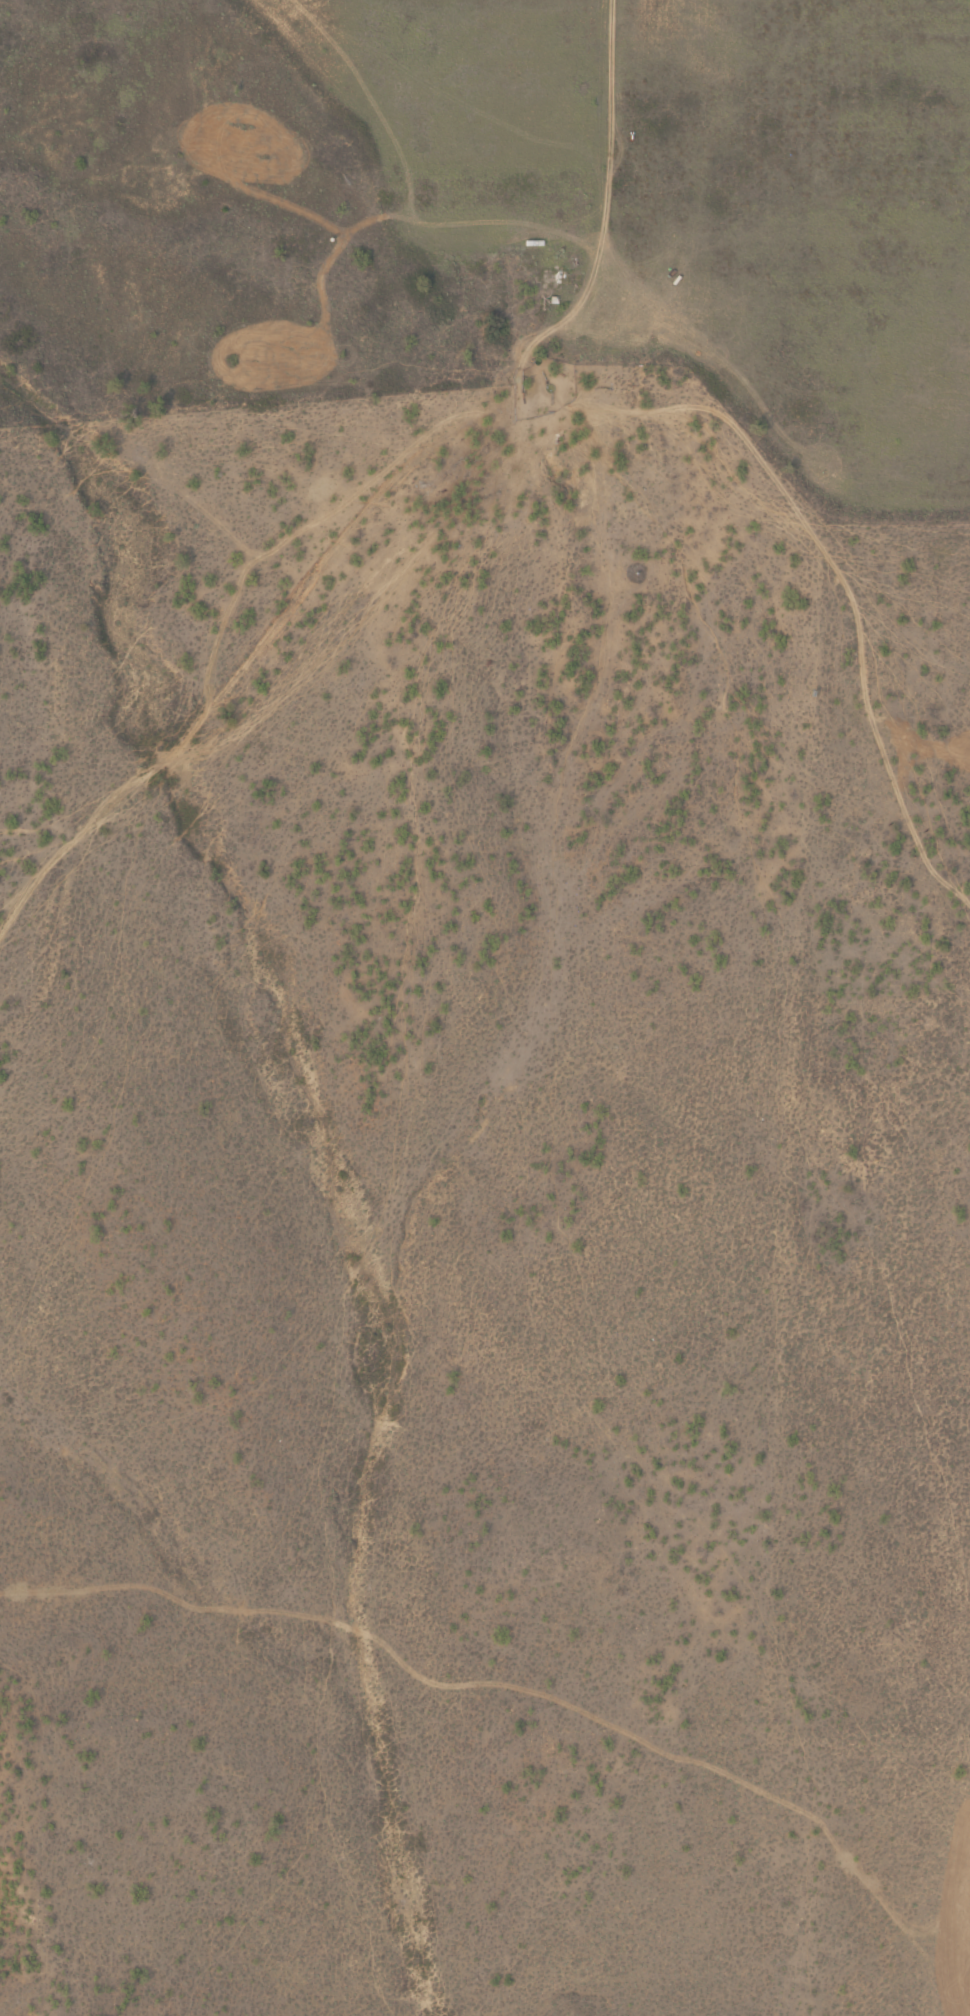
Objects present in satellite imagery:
road: (590, 250)
road: (488, 478)

